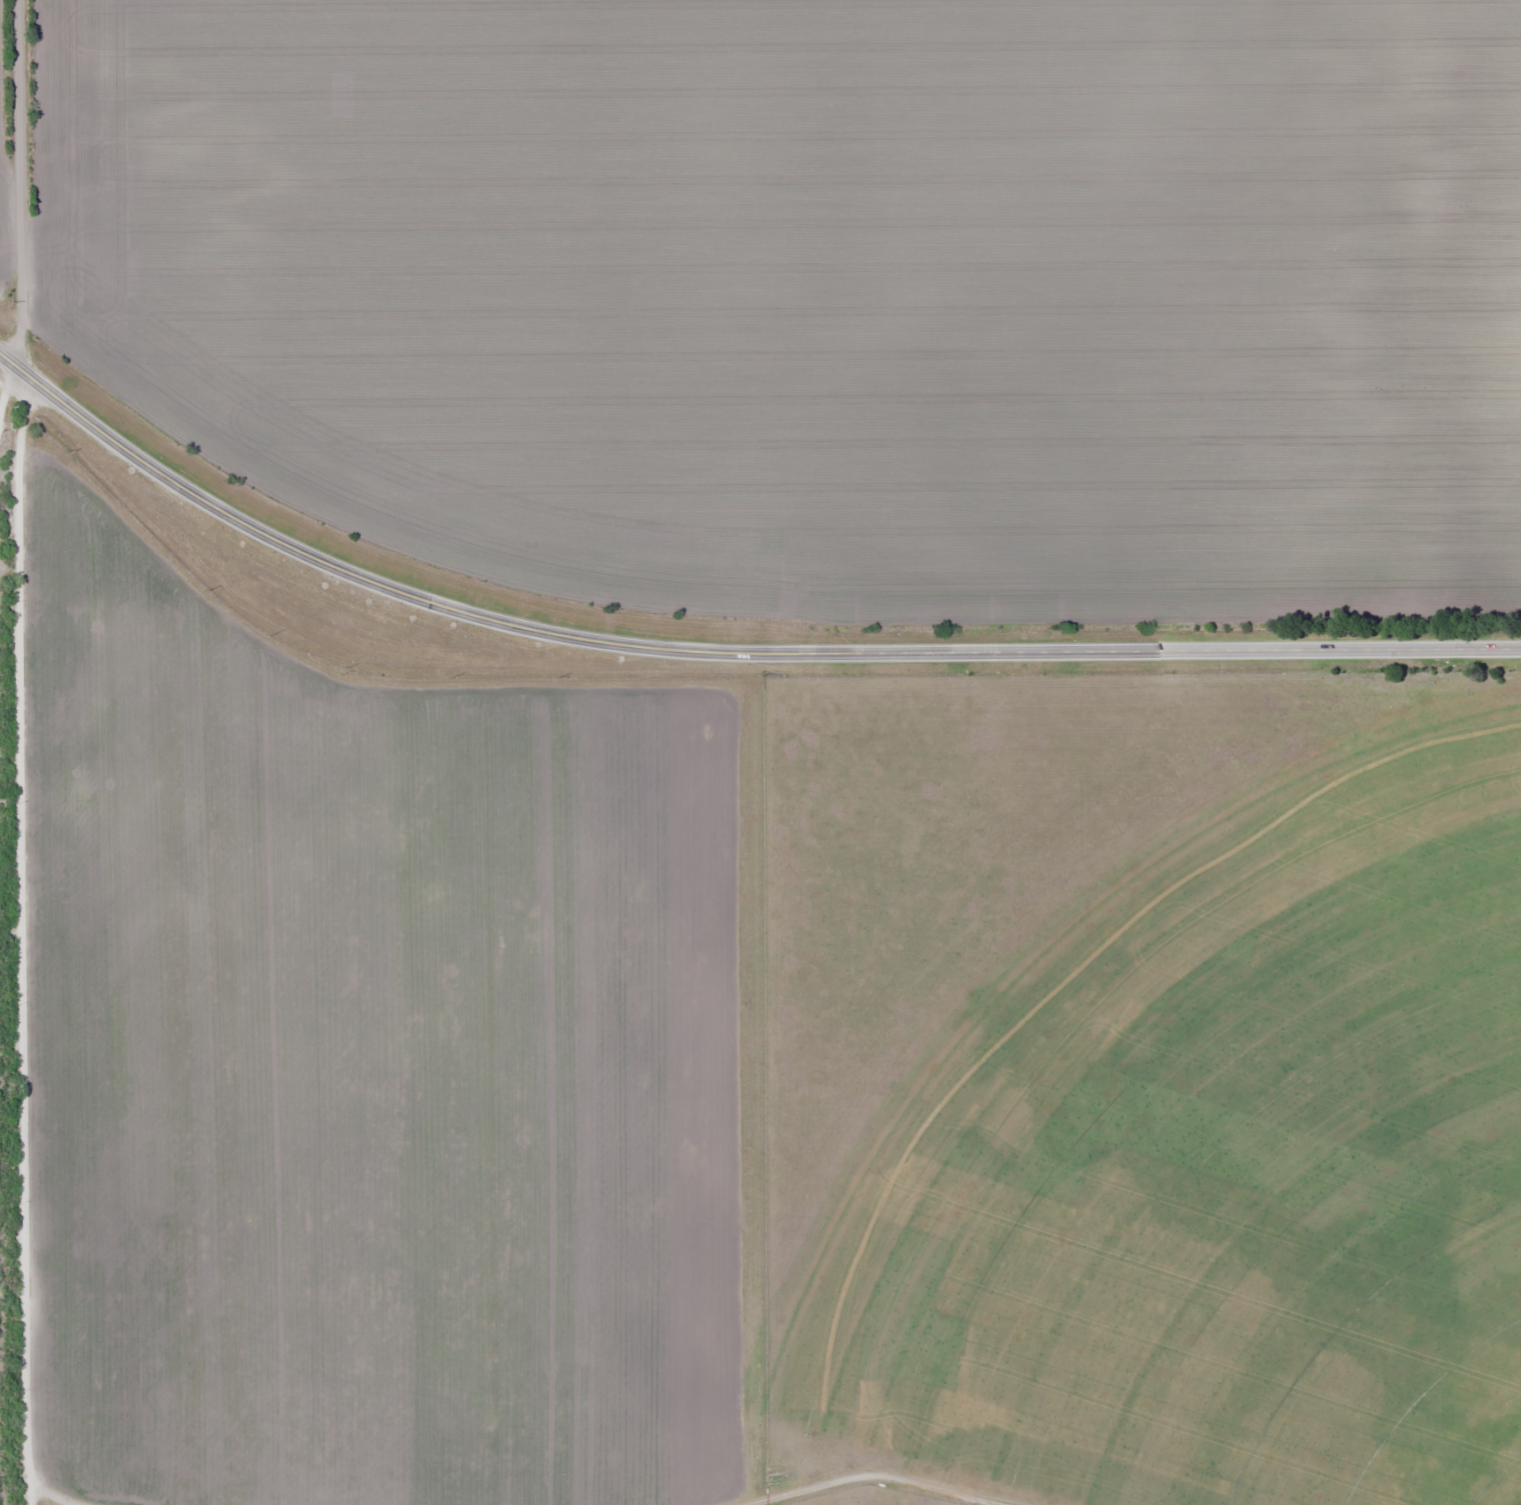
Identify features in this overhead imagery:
road: (18, 184)
road: (722, 651)
road: (22, 942)

